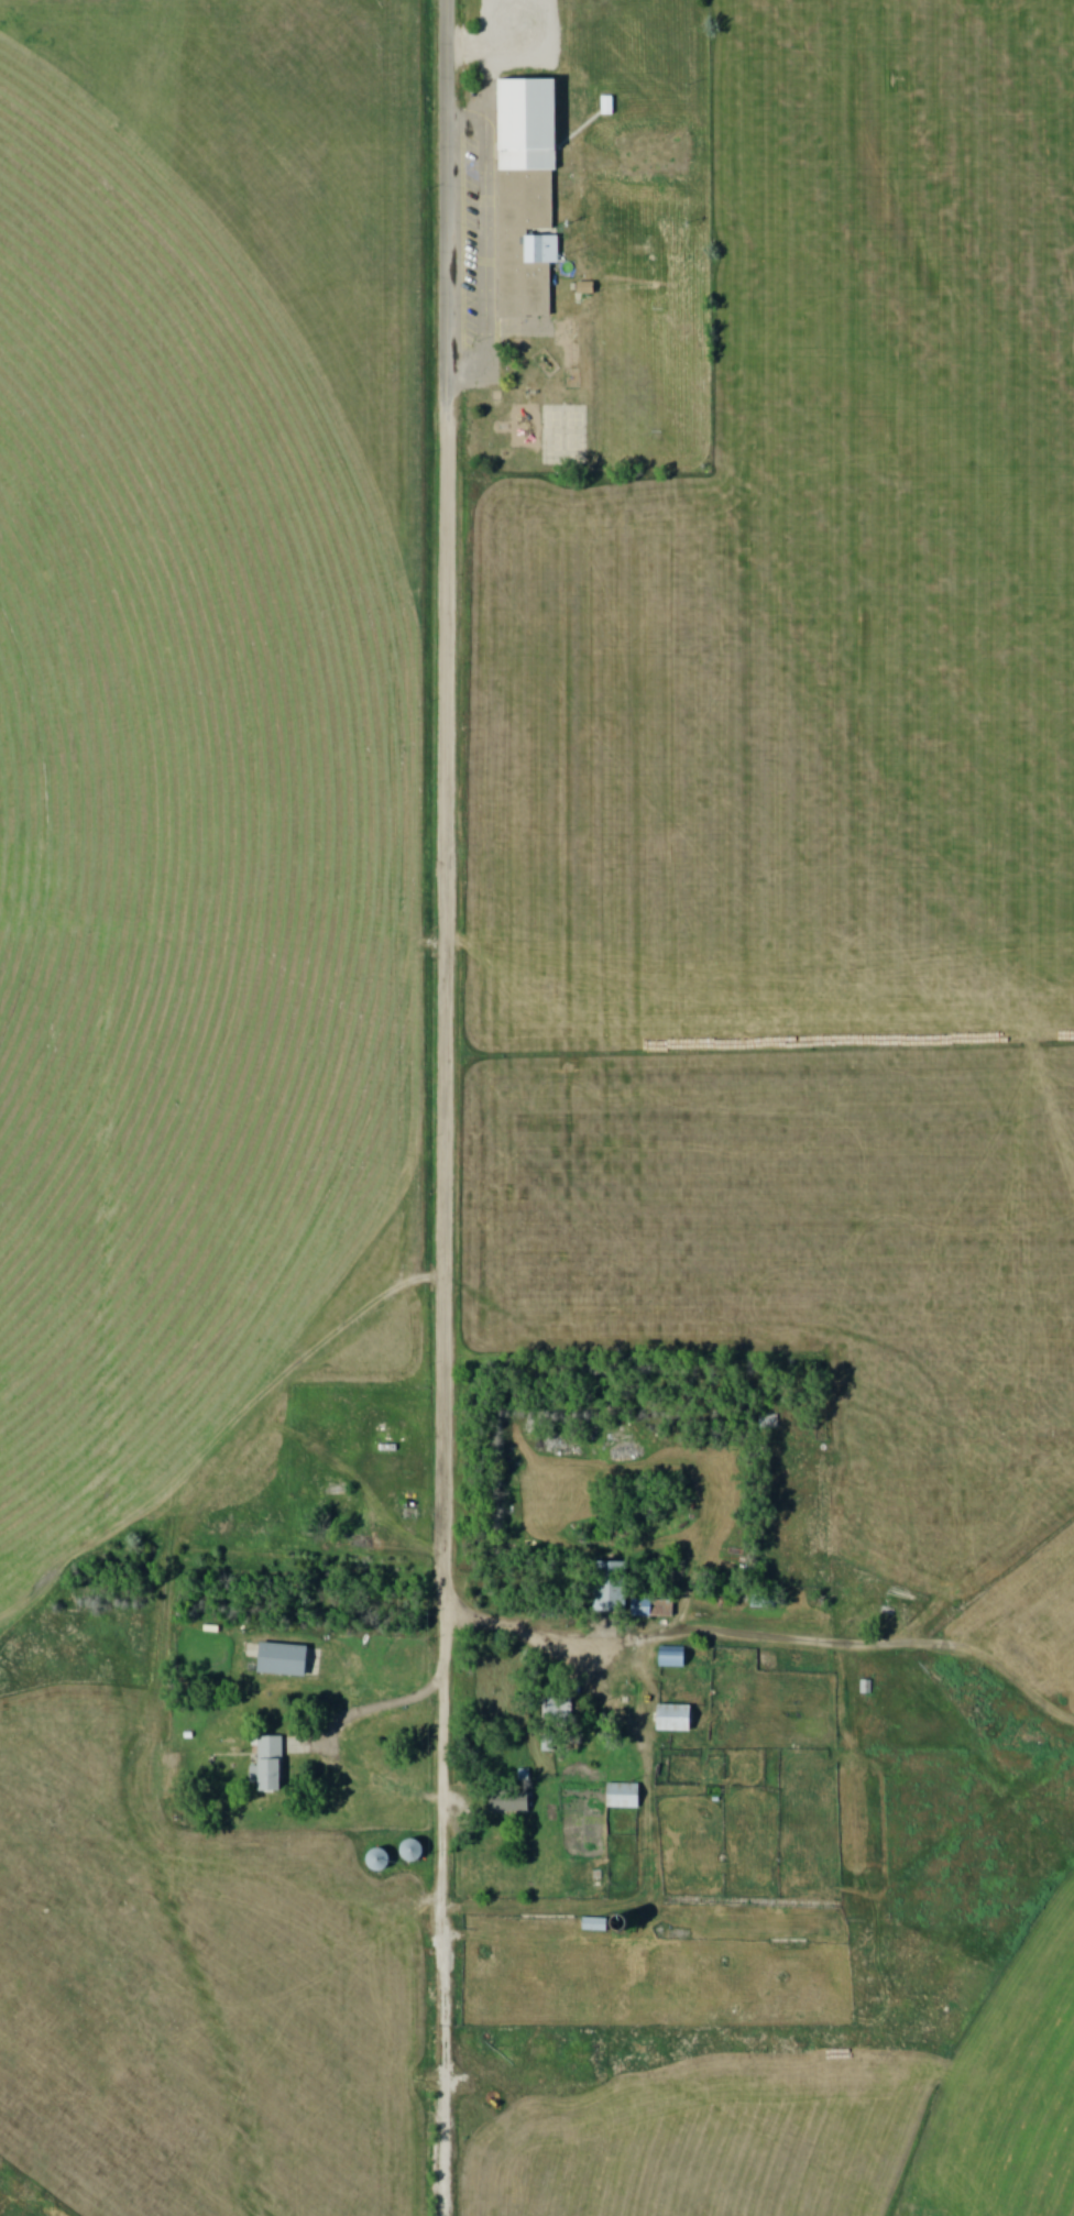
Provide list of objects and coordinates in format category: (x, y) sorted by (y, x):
building: (530, 123)
road: (448, 198)
road: (490, 249)
crop: (185, 838)
road: (445, 1219)
building: (613, 1587)
road: (716, 1637)
building: (283, 1656)
building: (675, 1657)
road: (363, 1709)
building: (559, 1712)
building: (677, 1714)
building: (272, 1765)
building: (624, 1791)
building: (512, 1802)
building: (417, 1852)
building: (383, 1862)
road: (649, 1873)
building: (598, 1926)
building: (539, 2049)

